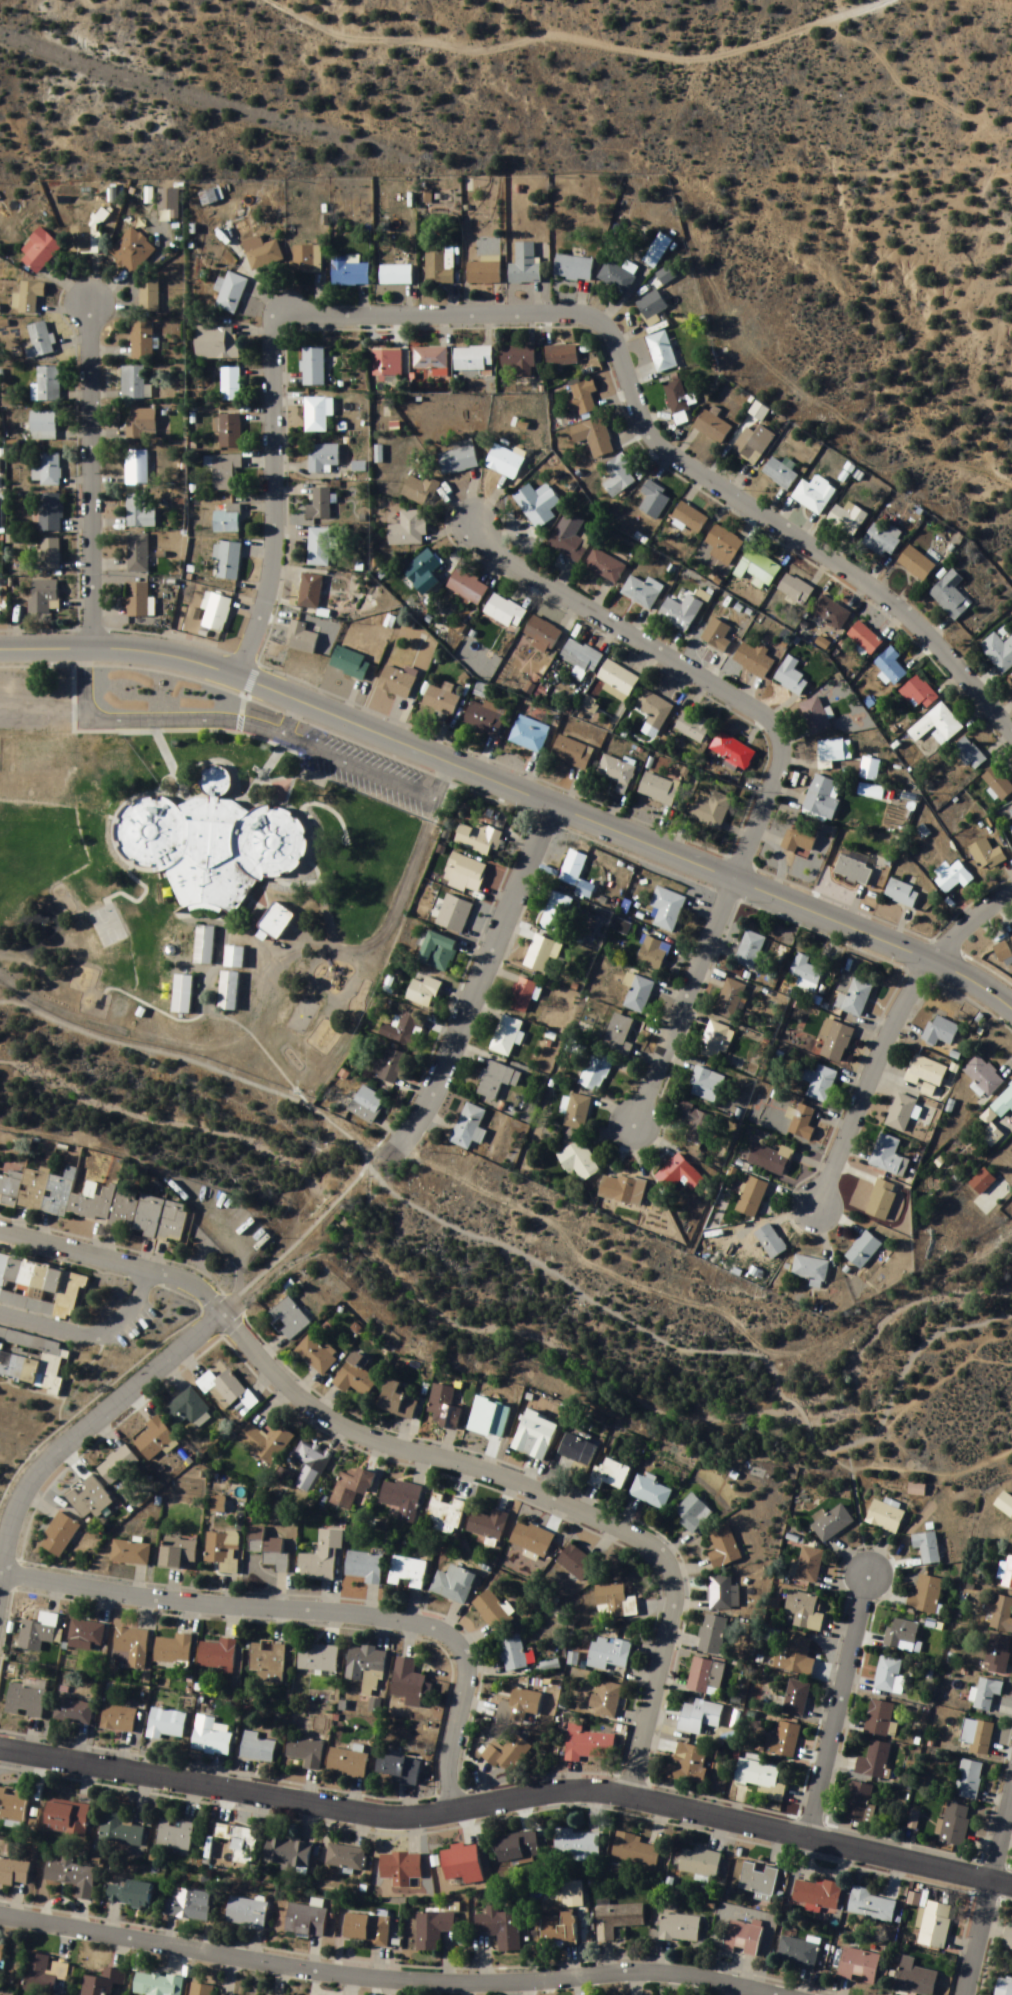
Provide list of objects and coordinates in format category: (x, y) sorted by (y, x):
road: (577, 43)
building: (169, 202)
building: (83, 239)
building: (39, 251)
building: (131, 251)
building: (262, 253)
building: (656, 253)
building: (307, 260)
building: (524, 266)
building: (438, 269)
building: (572, 269)
building: (483, 272)
building: (348, 273)
building: (394, 276)
building: (616, 278)
building: (231, 294)
building: (148, 296)
building: (27, 298)
building: (650, 307)
building: (39, 341)
building: (141, 341)
building: (216, 344)
building: (660, 353)
building: (560, 356)
building: (430, 360)
building: (472, 360)
building: (517, 360)
building: (386, 365)
building: (313, 367)
building: (46, 384)
building: (134, 384)
building: (229, 385)
building: (582, 398)
building: (676, 398)
building: (315, 415)
building: (140, 424)
building: (42, 426)
building: (711, 427)
building: (229, 431)
road: (647, 433)
building: (593, 437)
building: (753, 444)
building: (322, 458)
building: (458, 459)
building: (504, 462)
building: (135, 468)
building: (46, 470)
building: (224, 473)
building: (778, 474)
road: (89, 476)
building: (617, 476)
building: (419, 491)
building: (813, 495)
building: (654, 500)
building: (319, 505)
building: (537, 505)
building: (48, 512)
building: (138, 512)
road: (272, 512)
building: (688, 517)
building: (847, 519)
building: (227, 520)
building: (408, 530)
building: (568, 538)
building: (882, 540)
building: (722, 545)
building: (318, 548)
building: (137, 553)
building: (49, 555)
building: (227, 560)
building: (918, 562)
building: (604, 566)
building: (756, 567)
building: (422, 572)
building: (466, 587)
building: (794, 589)
building: (309, 592)
building: (640, 593)
building: (950, 596)
building: (43, 597)
building: (136, 600)
building: (504, 612)
building: (216, 613)
building: (680, 613)
building: (830, 613)
building: (540, 634)
building: (716, 636)
building: (300, 638)
building: (864, 639)
road: (11, 650)
building: (998, 653)
building: (580, 658)
building: (754, 660)
building: (349, 663)
building: (890, 666)
road: (688, 667)
building: (790, 677)
building: (618, 678)
building: (396, 682)
building: (918, 693)
building: (439, 701)
building: (654, 710)
building: (814, 716)
building: (484, 717)
road: (230, 718)
building: (936, 726)
building: (693, 728)
building: (529, 734)
building: (732, 751)
building: (831, 751)
building: (571, 753)
building: (968, 754)
parking lot: (365, 768)
building: (869, 769)
building: (616, 774)
road: (435, 778)
building: (998, 784)
building: (658, 789)
road: (527, 794)
building: (822, 798)
building: (710, 809)
building: (1011, 810)
building: (478, 839)
building: (799, 839)
building: (204, 841)
building: (985, 856)
building: (853, 867)
building: (573, 868)
building: (463, 874)
building: (953, 878)
building: (901, 894)
building: (667, 909)
building: (555, 913)
building: (458, 916)
road: (965, 919)
building: (275, 921)
park: (107, 928)
building: (1009, 938)
building: (202, 945)
building: (749, 950)
building: (437, 952)
building: (541, 954)
building: (652, 954)
building: (232, 957)
building: (805, 974)
road: (473, 987)
building: (227, 990)
building: (181, 994)
building: (421, 994)
building: (521, 995)
building: (639, 995)
building: (854, 999)
building: (730, 1002)
road: (682, 1005)
building: (403, 1030)
building: (939, 1032)
building: (618, 1035)
building: (506, 1036)
building: (834, 1040)
building: (715, 1043)
building: (390, 1067)
building: (596, 1072)
building: (927, 1075)
building: (983, 1076)
road: (863, 1077)
building: (496, 1081)
building: (819, 1083)
building: (705, 1085)
building: (367, 1105)
building: (577, 1112)
building: (901, 1113)
building: (995, 1117)
building: (802, 1123)
building: (696, 1124)
building: (469, 1128)
building: (888, 1157)
building: (771, 1159)
building: (578, 1161)
building: (678, 1175)
building: (982, 1182)
building: (617, 1190)
building: (751, 1198)
building: (881, 1200)
building: (94, 1204)
road: (301, 1239)
building: (770, 1242)
building: (862, 1251)
road: (533, 1263)
building: (810, 1271)
building: (40, 1288)
building: (288, 1319)
road: (93, 1341)
building: (316, 1356)
building: (32, 1360)
building: (355, 1377)
building: (228, 1392)
building: (397, 1402)
building: (185, 1409)
building: (443, 1409)
building: (490, 1420)
road: (86, 1422)
building: (534, 1437)
building: (154, 1442)
building: (266, 1442)
building: (576, 1450)
road: (428, 1455)
building: (311, 1458)
building: (116, 1467)
building: (609, 1475)
building: (283, 1478)
building: (351, 1487)
building: (916, 1490)
building: (649, 1493)
building: (402, 1499)
building: (89, 1500)
road: (852, 1504)
building: (1004, 1505)
building: (692, 1514)
building: (444, 1515)
building: (884, 1517)
building: (832, 1524)
building: (487, 1525)
building: (58, 1536)
building: (532, 1539)
building: (1011, 1540)
building: (723, 1548)
building: (927, 1548)
building: (268, 1550)
building: (223, 1551)
building: (176, 1553)
building: (130, 1554)
building: (321, 1558)
building: (575, 1563)
building: (809, 1566)
building: (363, 1568)
building: (407, 1573)
building: (1005, 1574)
building: (453, 1585)
building: (723, 1593)
building: (927, 1595)
building: (614, 1602)
road: (311, 1611)
building: (494, 1611)
building: (804, 1612)
building: (38, 1633)
building: (85, 1635)
building: (711, 1635)
building: (901, 1635)
building: (130, 1649)
building: (173, 1651)
building: (513, 1654)
building: (609, 1655)
building: (217, 1656)
building: (266, 1657)
building: (798, 1657)
building: (317, 1658)
building: (365, 1667)
building: (889, 1676)
building: (705, 1678)
building: (409, 1683)
building: (986, 1694)
building: (795, 1699)
building: (608, 1700)
road: (832, 1700)
building: (25, 1701)
building: (519, 1705)
building: (72, 1712)
building: (699, 1718)
building: (879, 1718)
building: (118, 1719)
building: (166, 1725)
building: (211, 1737)
building: (977, 1737)
building: (783, 1741)
building: (587, 1744)
building: (257, 1749)
building: (306, 1752)
building: (506, 1754)
building: (874, 1761)
building: (348, 1763)
building: (688, 1764)
building: (399, 1769)
building: (757, 1775)
building: (968, 1780)
road: (508, 1793)
building: (859, 1804)
building: (12, 1806)
building: (66, 1819)
road: (1000, 1819)
building: (954, 1825)
building: (120, 1828)
building: (174, 1835)
building: (576, 1844)
building: (242, 1847)
building: (518, 1848)
building: (635, 1851)
building: (287, 1854)
building: (345, 1857)
building: (699, 1862)
building: (462, 1864)
building: (401, 1867)
building: (13, 1873)
building: (72, 1877)
building: (758, 1880)
building: (130, 1894)
building: (817, 1894)
building: (187, 1904)
building: (870, 1905)
building: (247, 1912)
building: (617, 1919)
building: (306, 1920)
building: (935, 1925)
building: (500, 1928)
building: (679, 1928)
building: (433, 1929)
building: (367, 1930)
building: (558, 1931)
road: (974, 1935)
building: (742, 1938)
building: (1008, 1938)
building: (798, 1953)
building: (1, 1954)
building: (858, 1966)
building: (44, 1974)
road: (387, 1977)
building: (915, 1979)
building: (104, 1983)
building: (157, 1984)
building: (1004, 1988)
building: (201, 1989)
building: (267, 1994)

